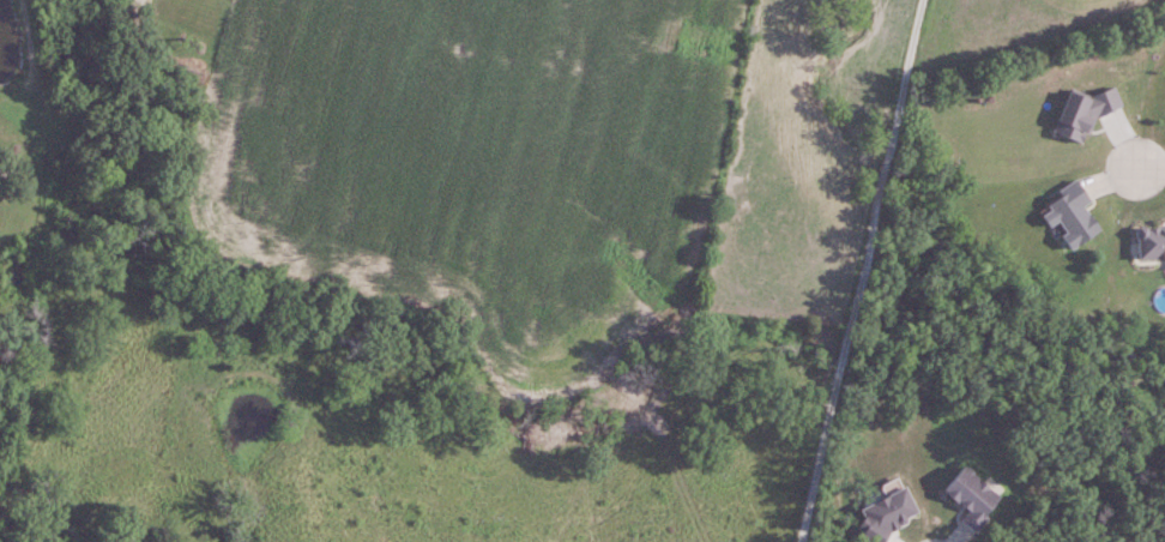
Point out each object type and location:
road: (1152, 168)
building: (1069, 216)
building: (1149, 239)
road: (862, 270)
building: (970, 496)

